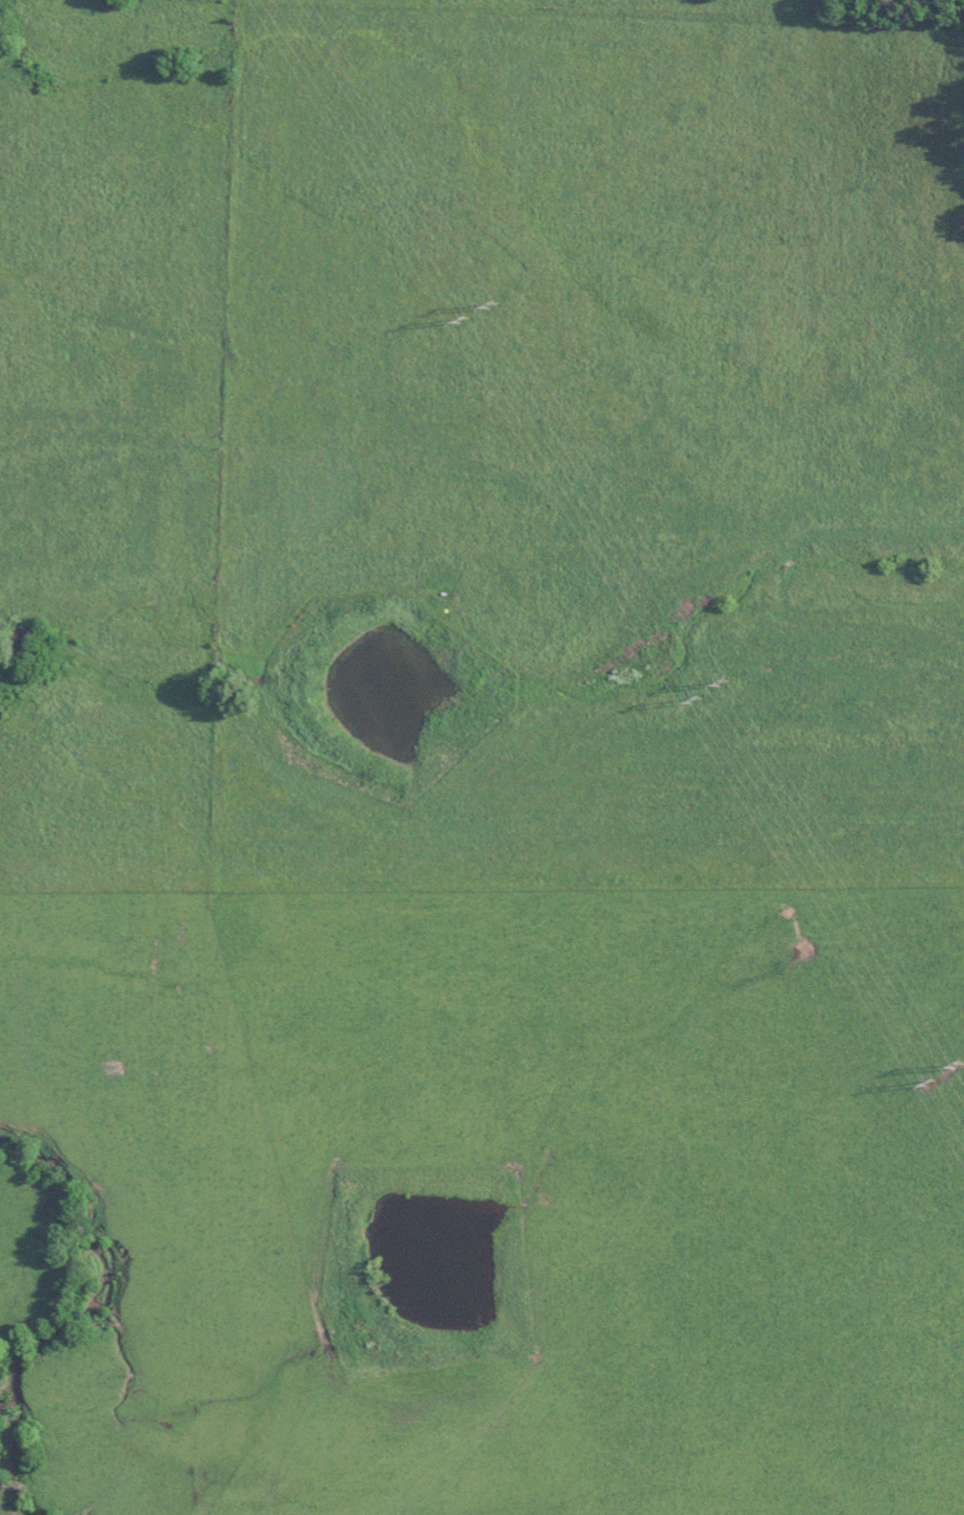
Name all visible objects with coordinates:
power tower: (506, 303)
power tower: (473, 322)
power tower: (742, 683)
power tower: (708, 703)
building: (112, 1065)
power tower: (941, 1086)

